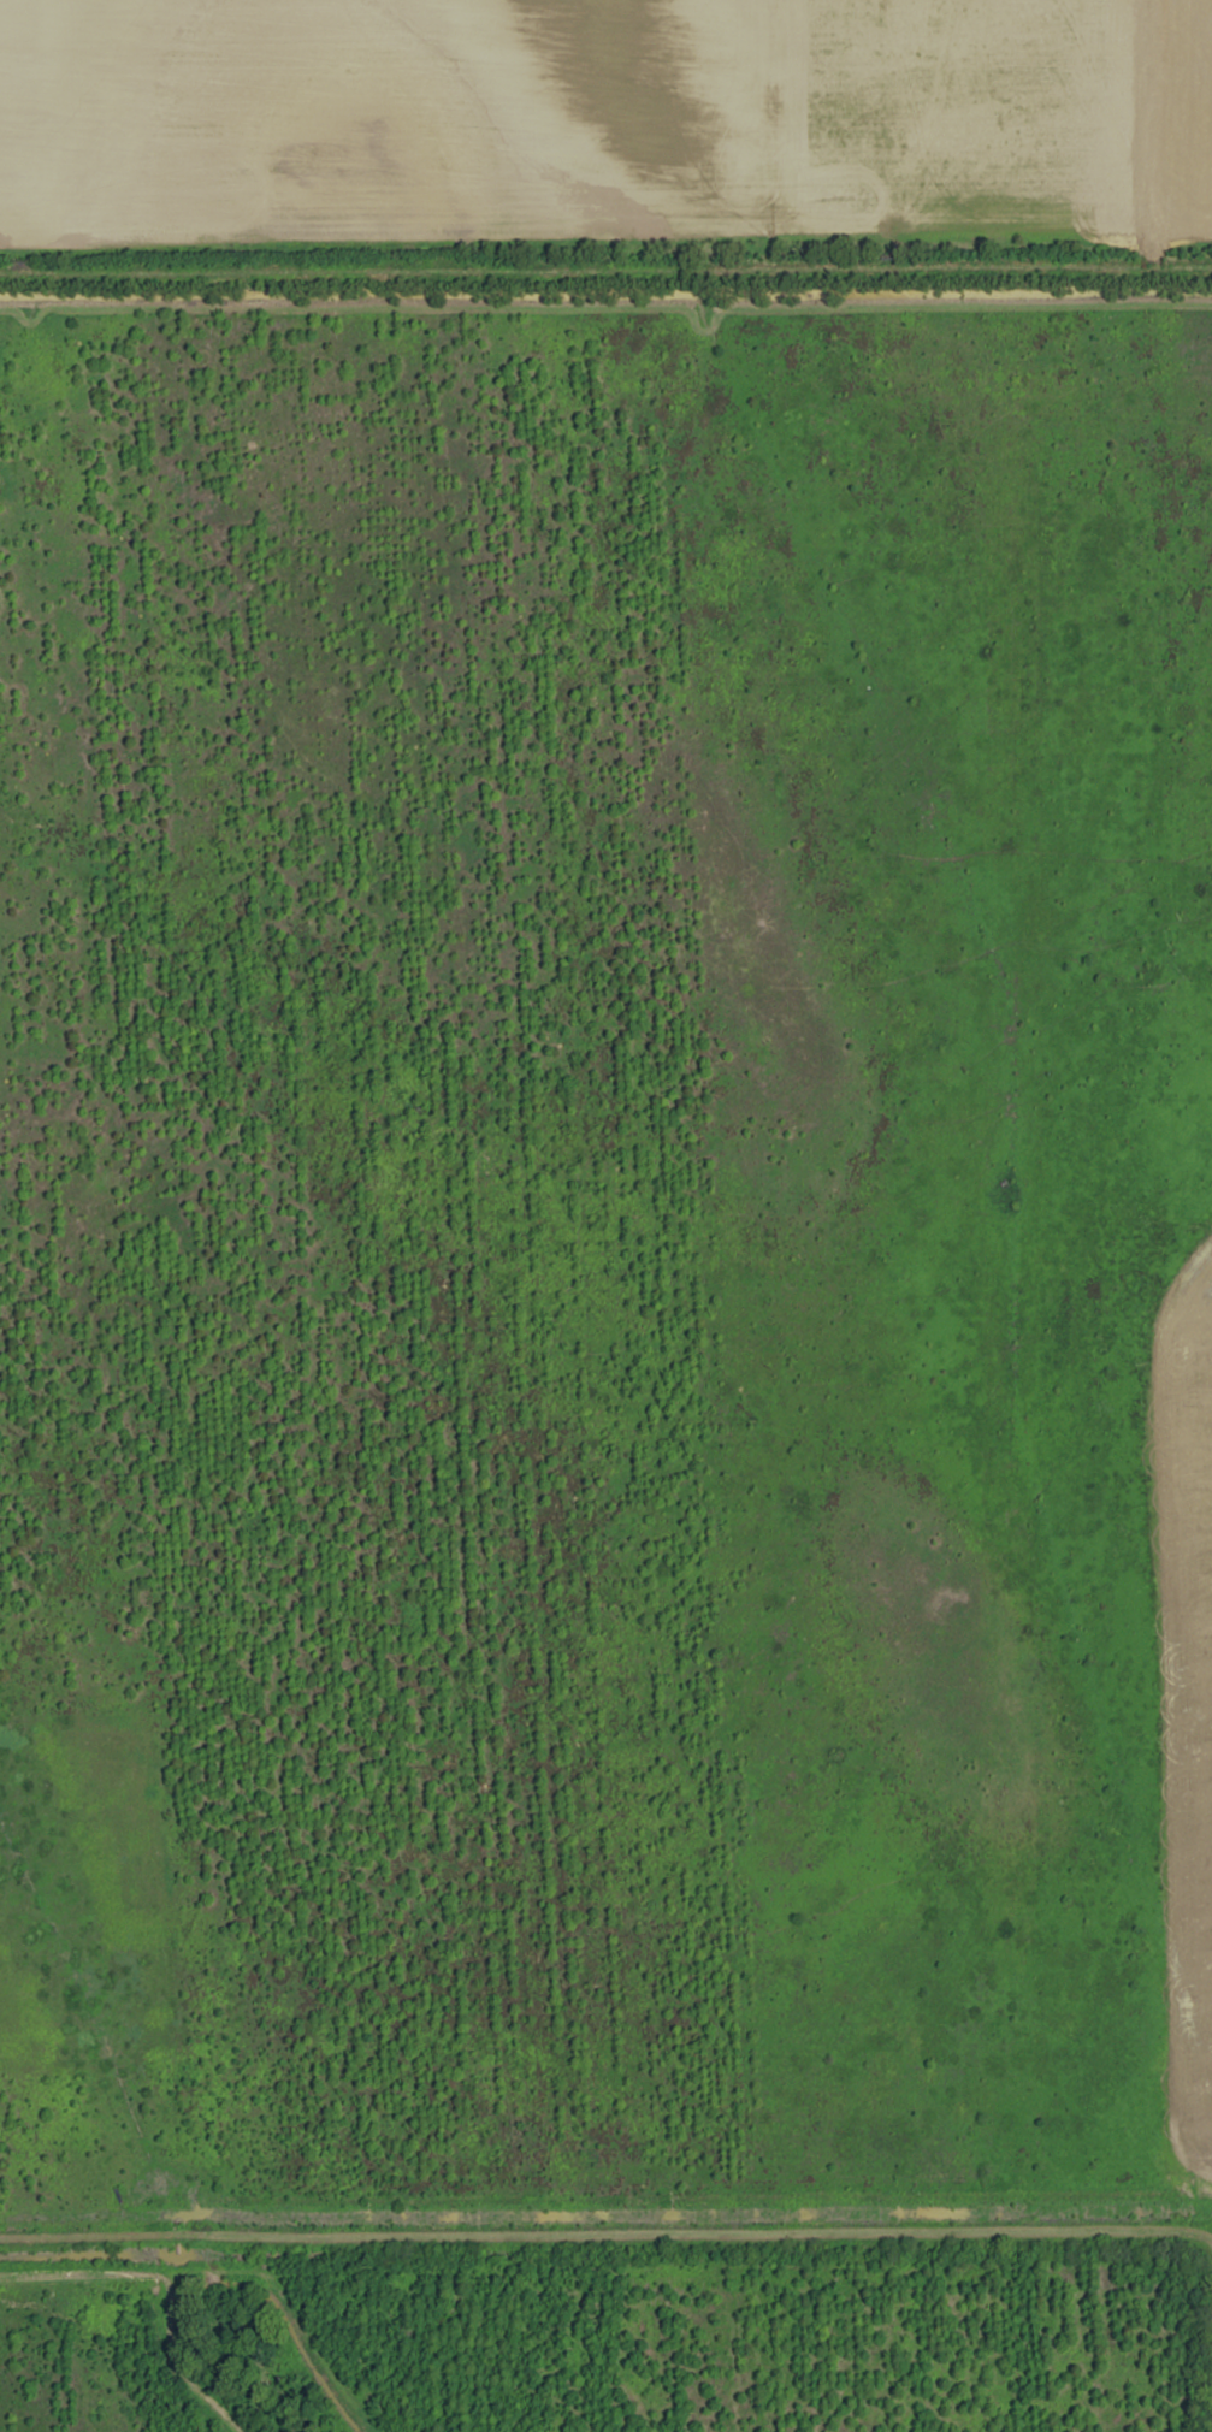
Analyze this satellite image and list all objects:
road: (605, 2292)

